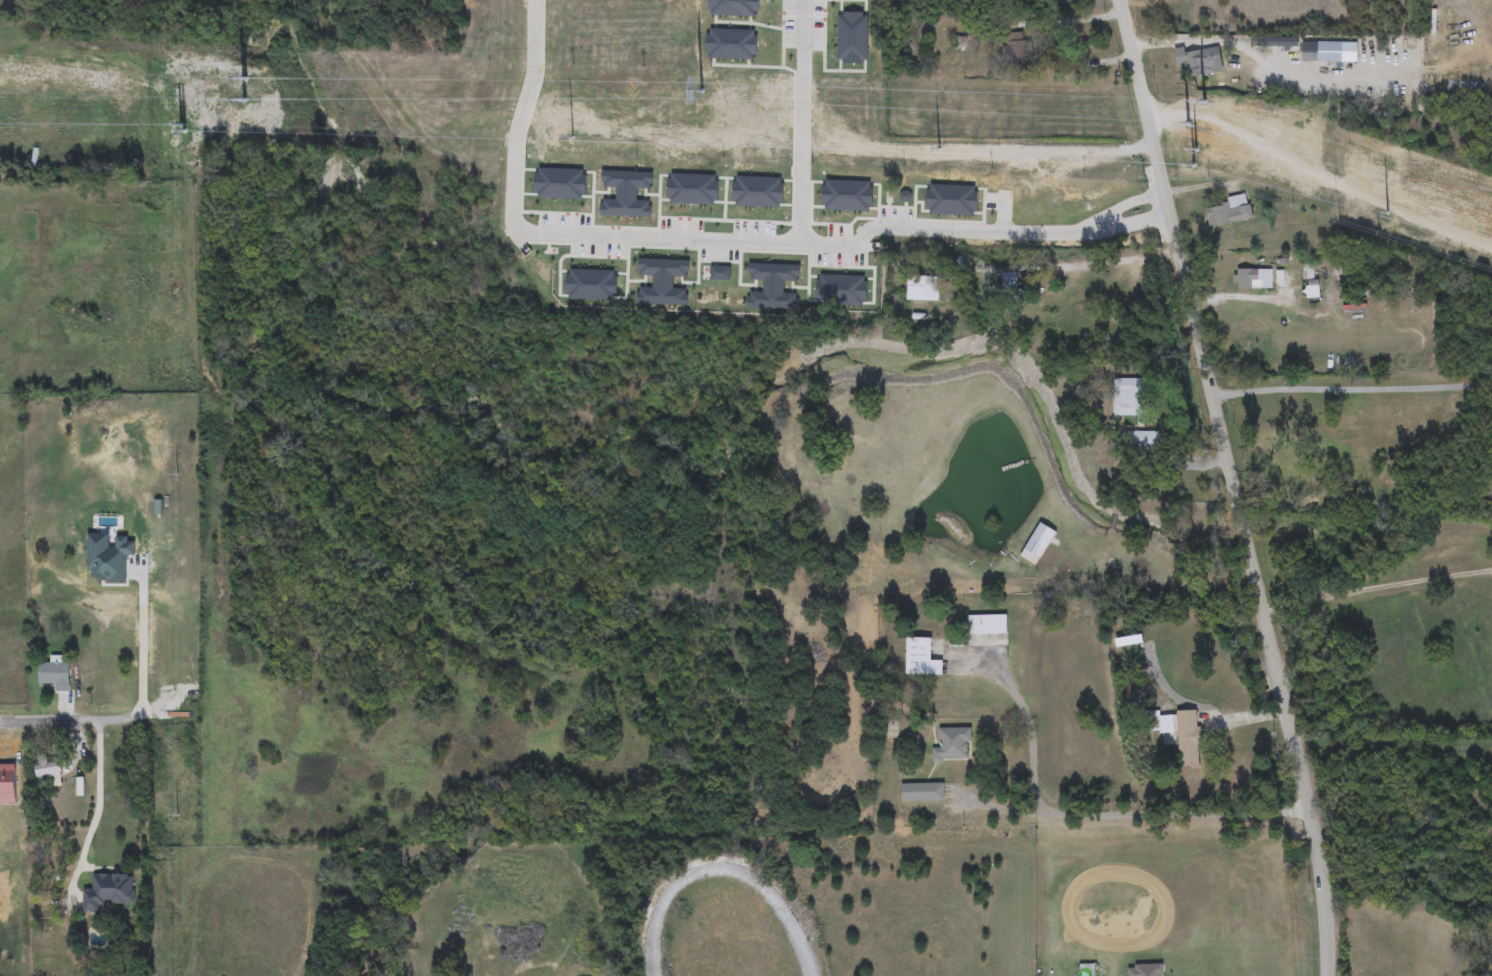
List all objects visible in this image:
road: (1226, 41)
road: (1064, 44)
building: (1017, 48)
building: (1321, 52)
building: (1194, 63)
power tower: (211, 94)
power tower: (701, 113)
road: (801, 121)
power tower: (1218, 125)
road: (1321, 173)
building: (735, 203)
road: (1130, 203)
building: (1228, 213)
road: (1135, 223)
road: (948, 229)
road: (541, 231)
road: (1113, 261)
building: (963, 265)
building: (1349, 267)
building: (1252, 279)
building: (923, 289)
road: (1245, 298)
road: (1352, 389)
building: (1129, 397)
building: (1141, 440)
road: (1231, 487)
building: (1037, 544)
road: (1377, 585)
building: (986, 625)
building: (920, 657)
building: (54, 676)
road: (142, 693)
road: (38, 720)
building: (1188, 739)
building: (952, 745)
building: (46, 769)
building: (922, 793)
road: (994, 806)
road: (97, 810)
road: (1097, 815)
road: (729, 874)
building: (1145, 971)

